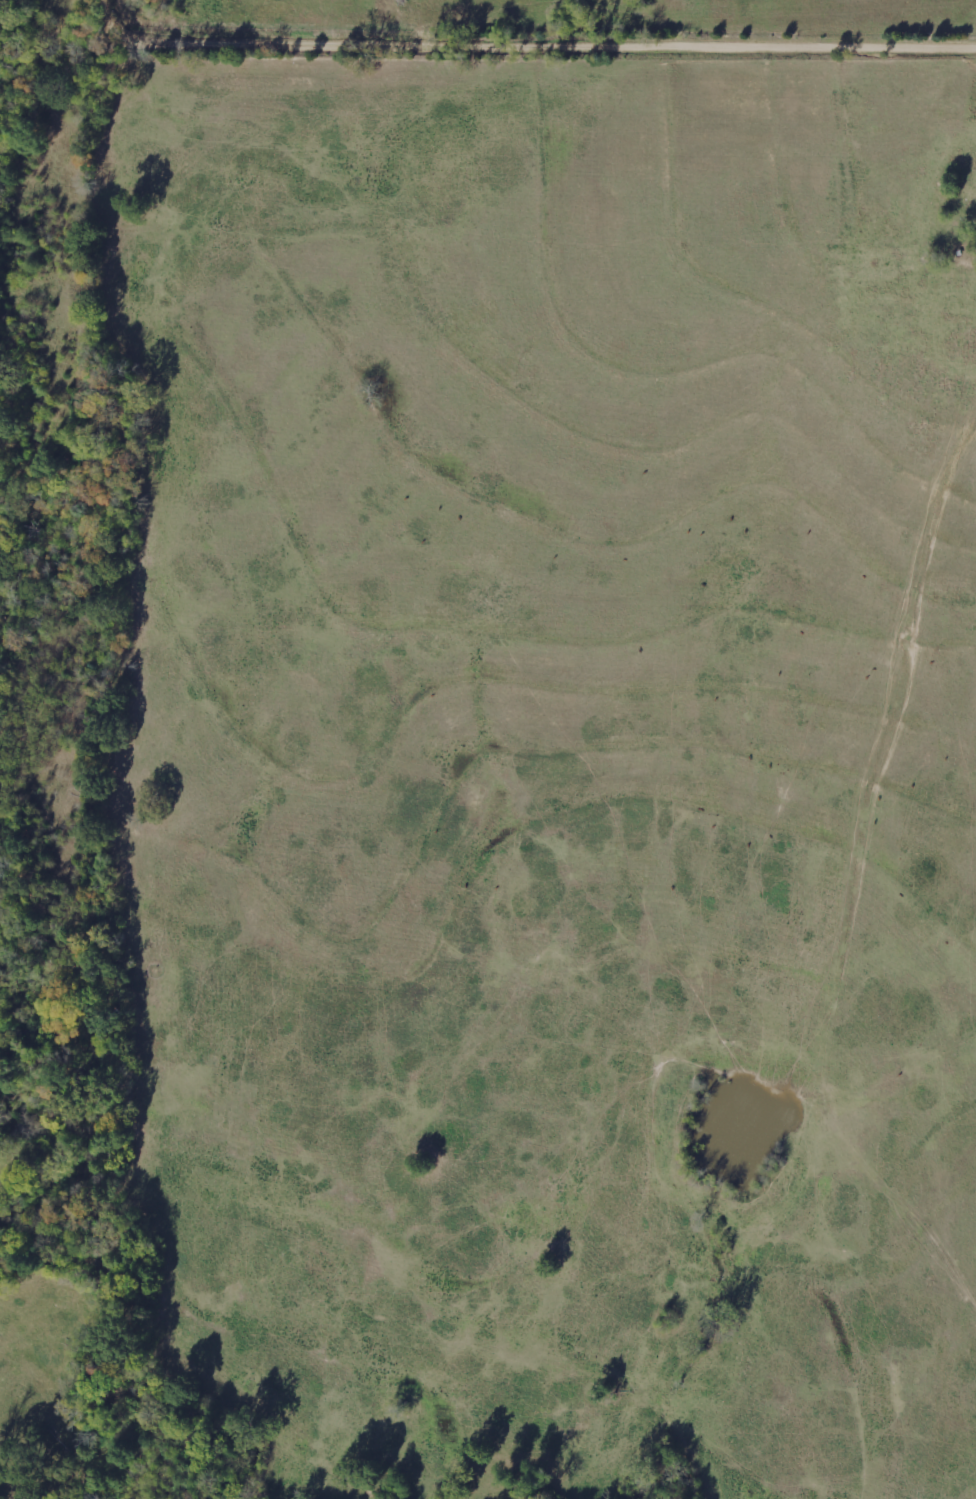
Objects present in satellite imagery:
road: (523, 53)

